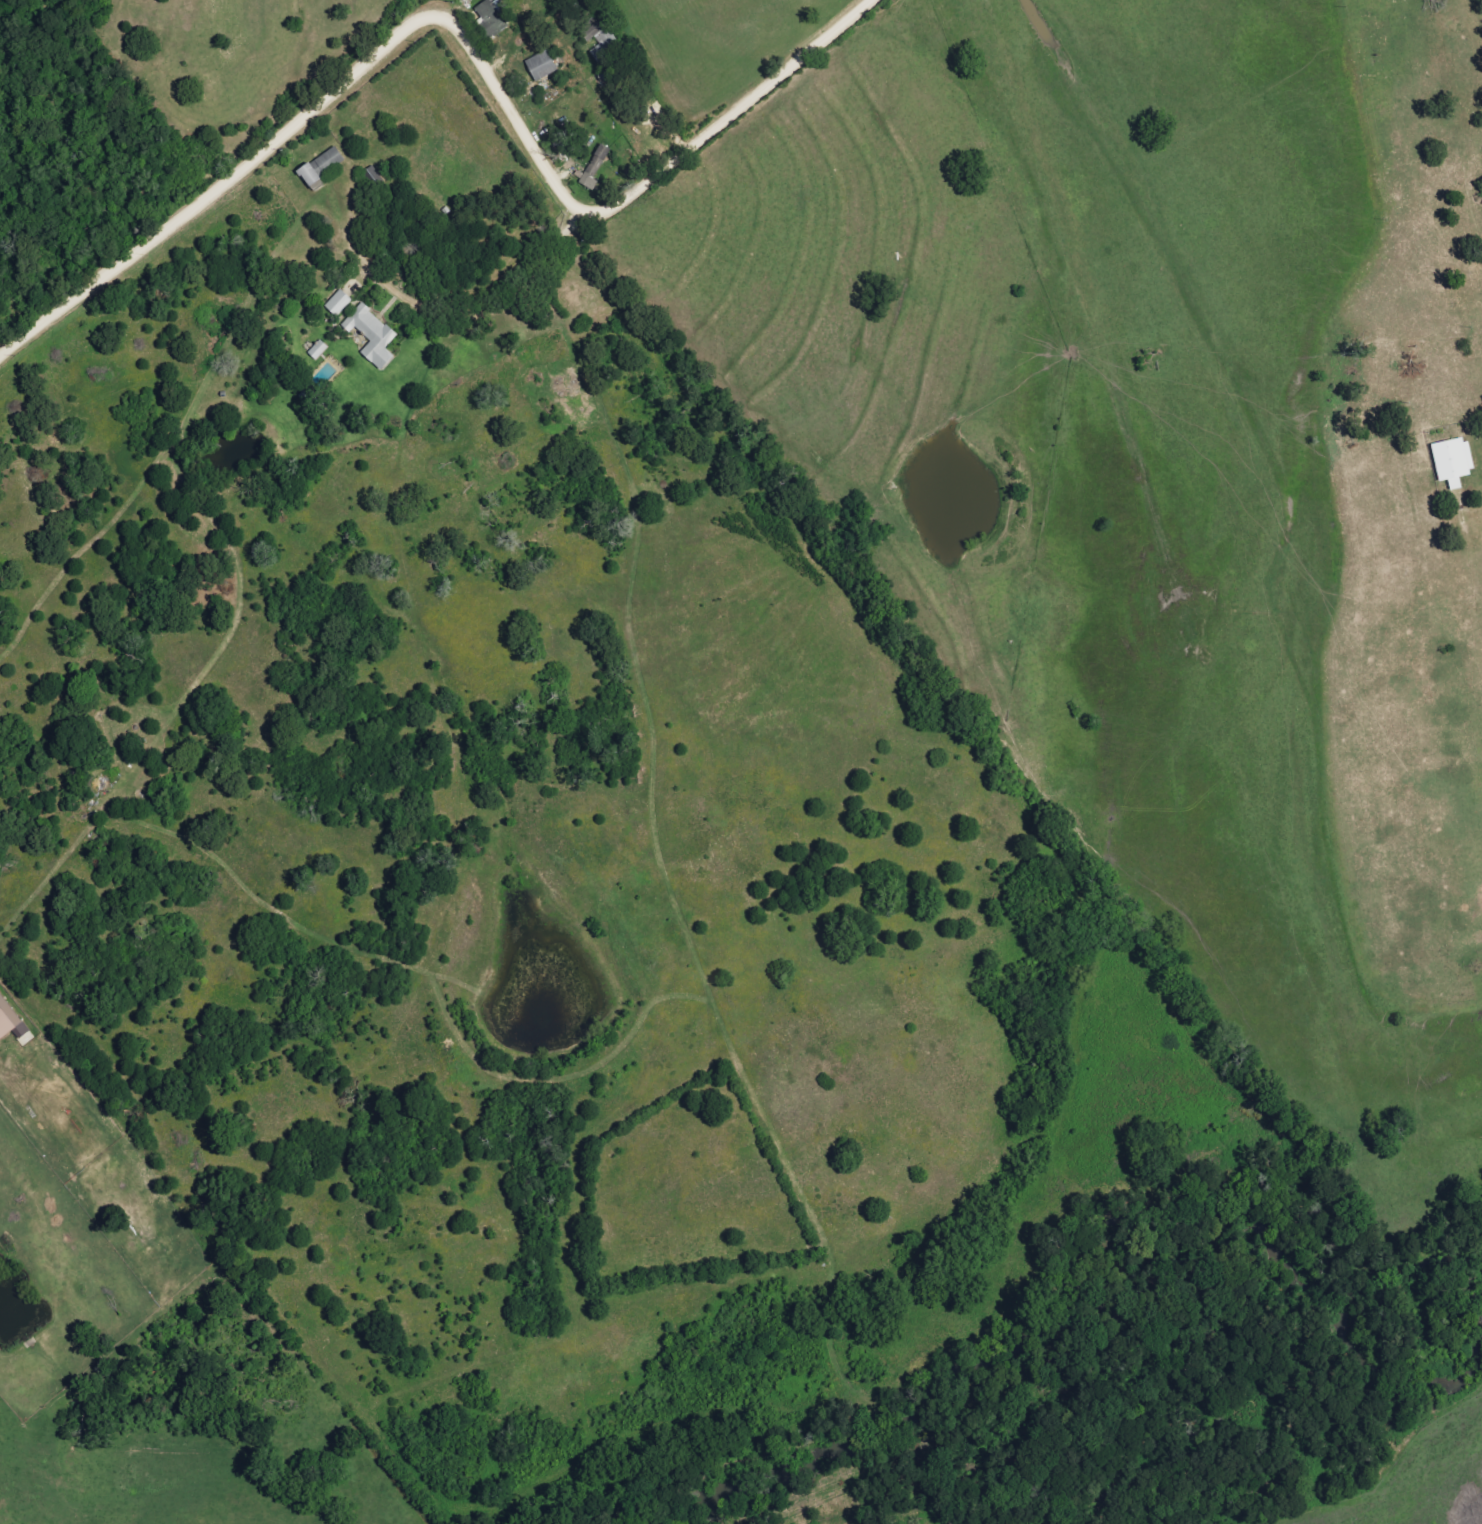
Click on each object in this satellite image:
building: (491, 18)
road: (463, 26)
building: (600, 40)
building: (540, 66)
building: (607, 141)
building: (594, 167)
building: (320, 168)
building: (338, 303)
road: (507, 310)
building: (371, 335)
building: (1451, 462)
building: (9, 1022)

